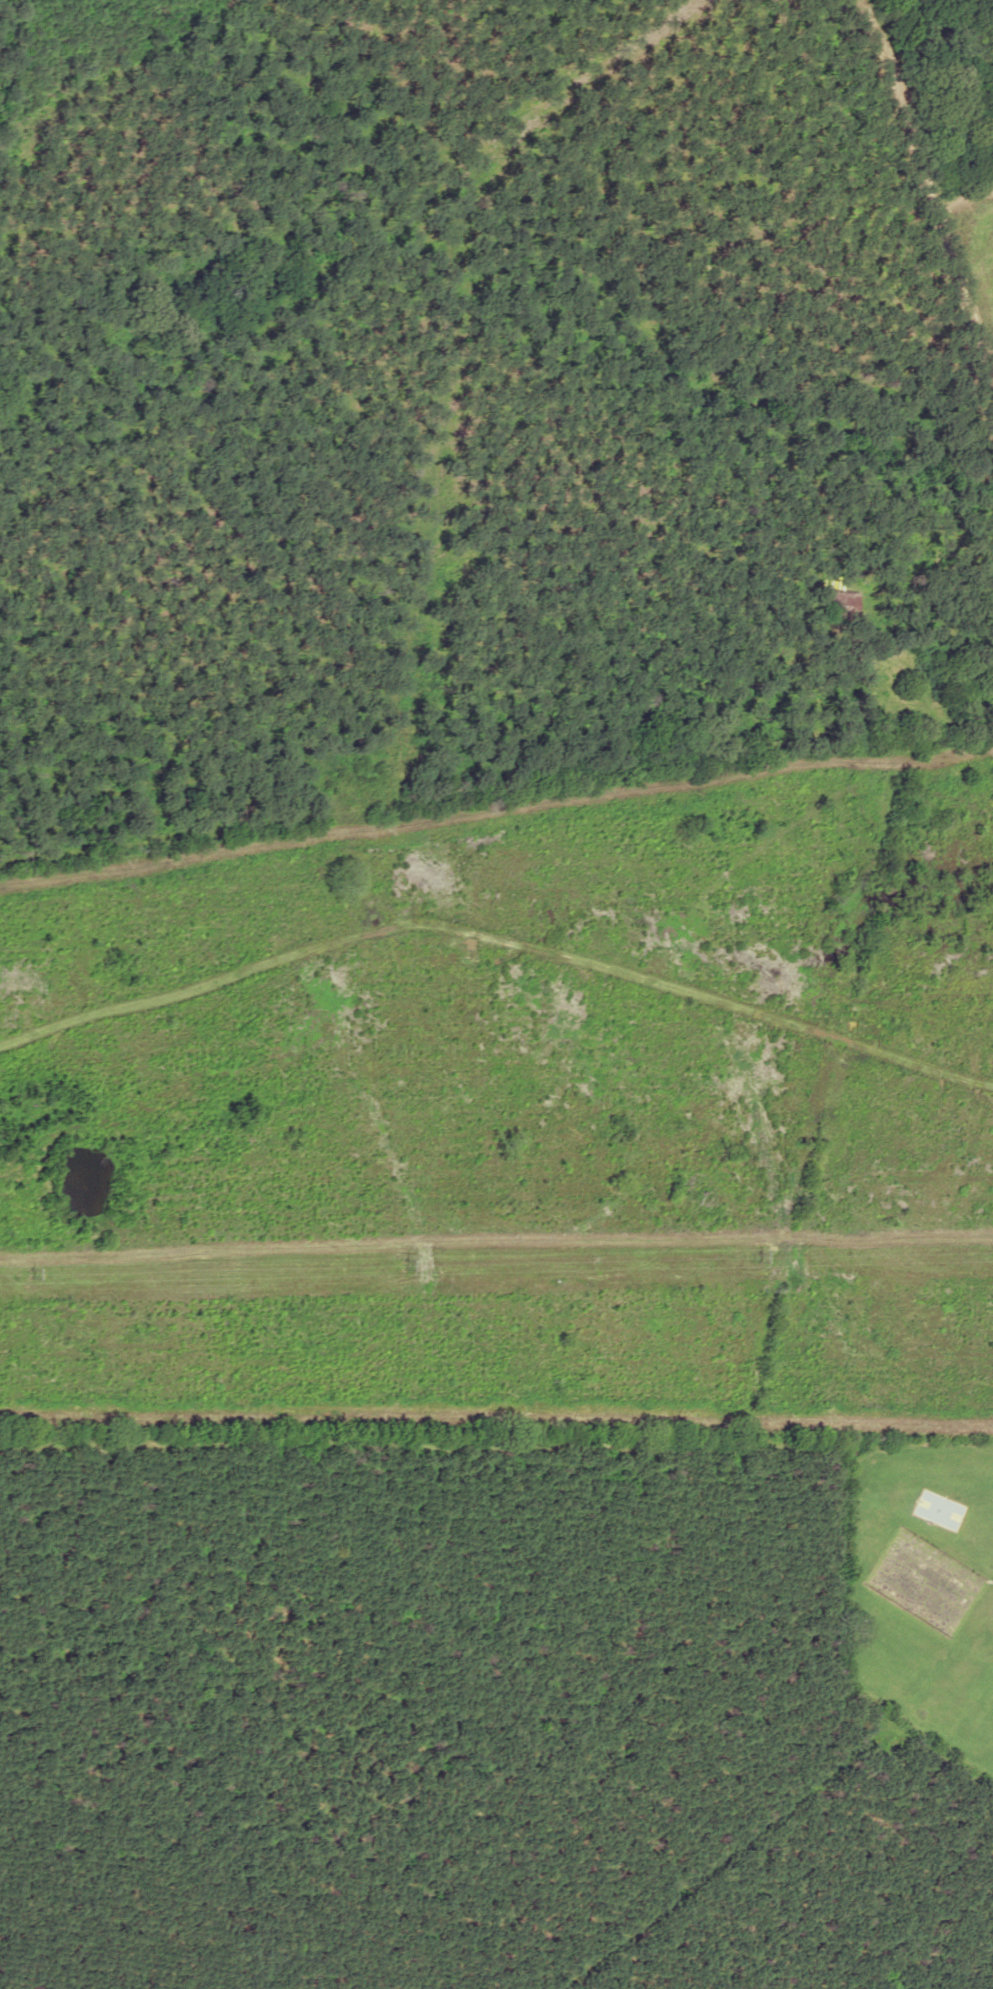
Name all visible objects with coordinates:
building: (839, 603)

